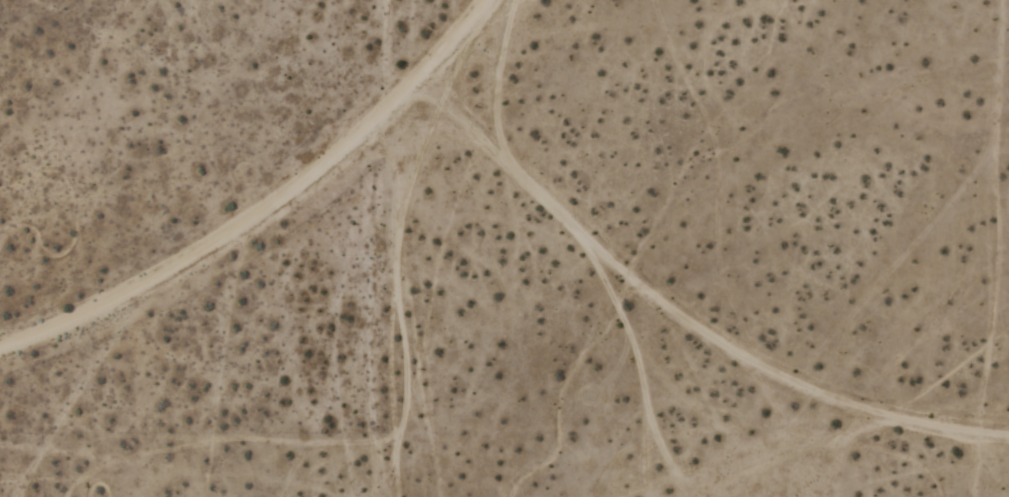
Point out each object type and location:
road: (272, 209)
park: (141, 248)
crop: (504, 248)
road: (682, 313)
road: (980, 466)

